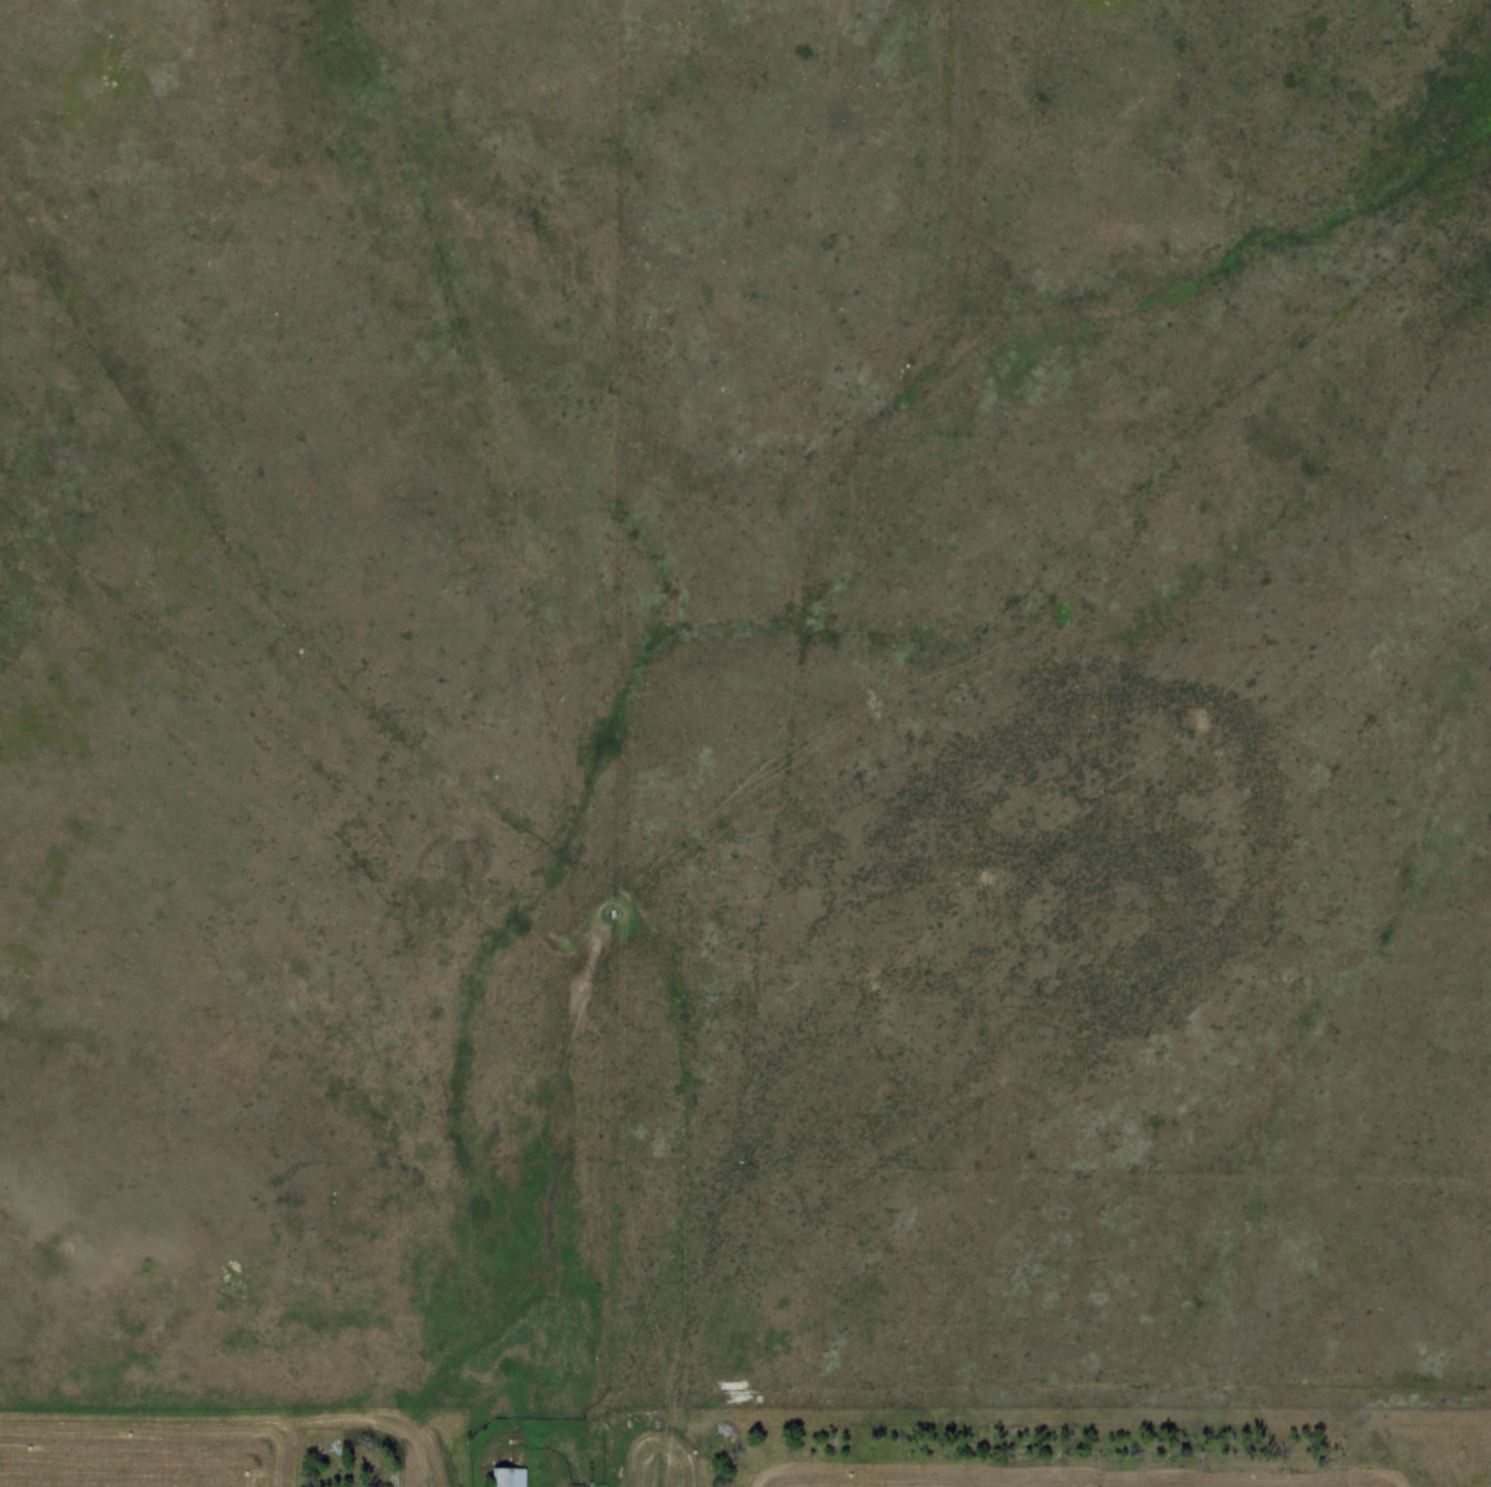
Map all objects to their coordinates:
building: (508, 1478)

